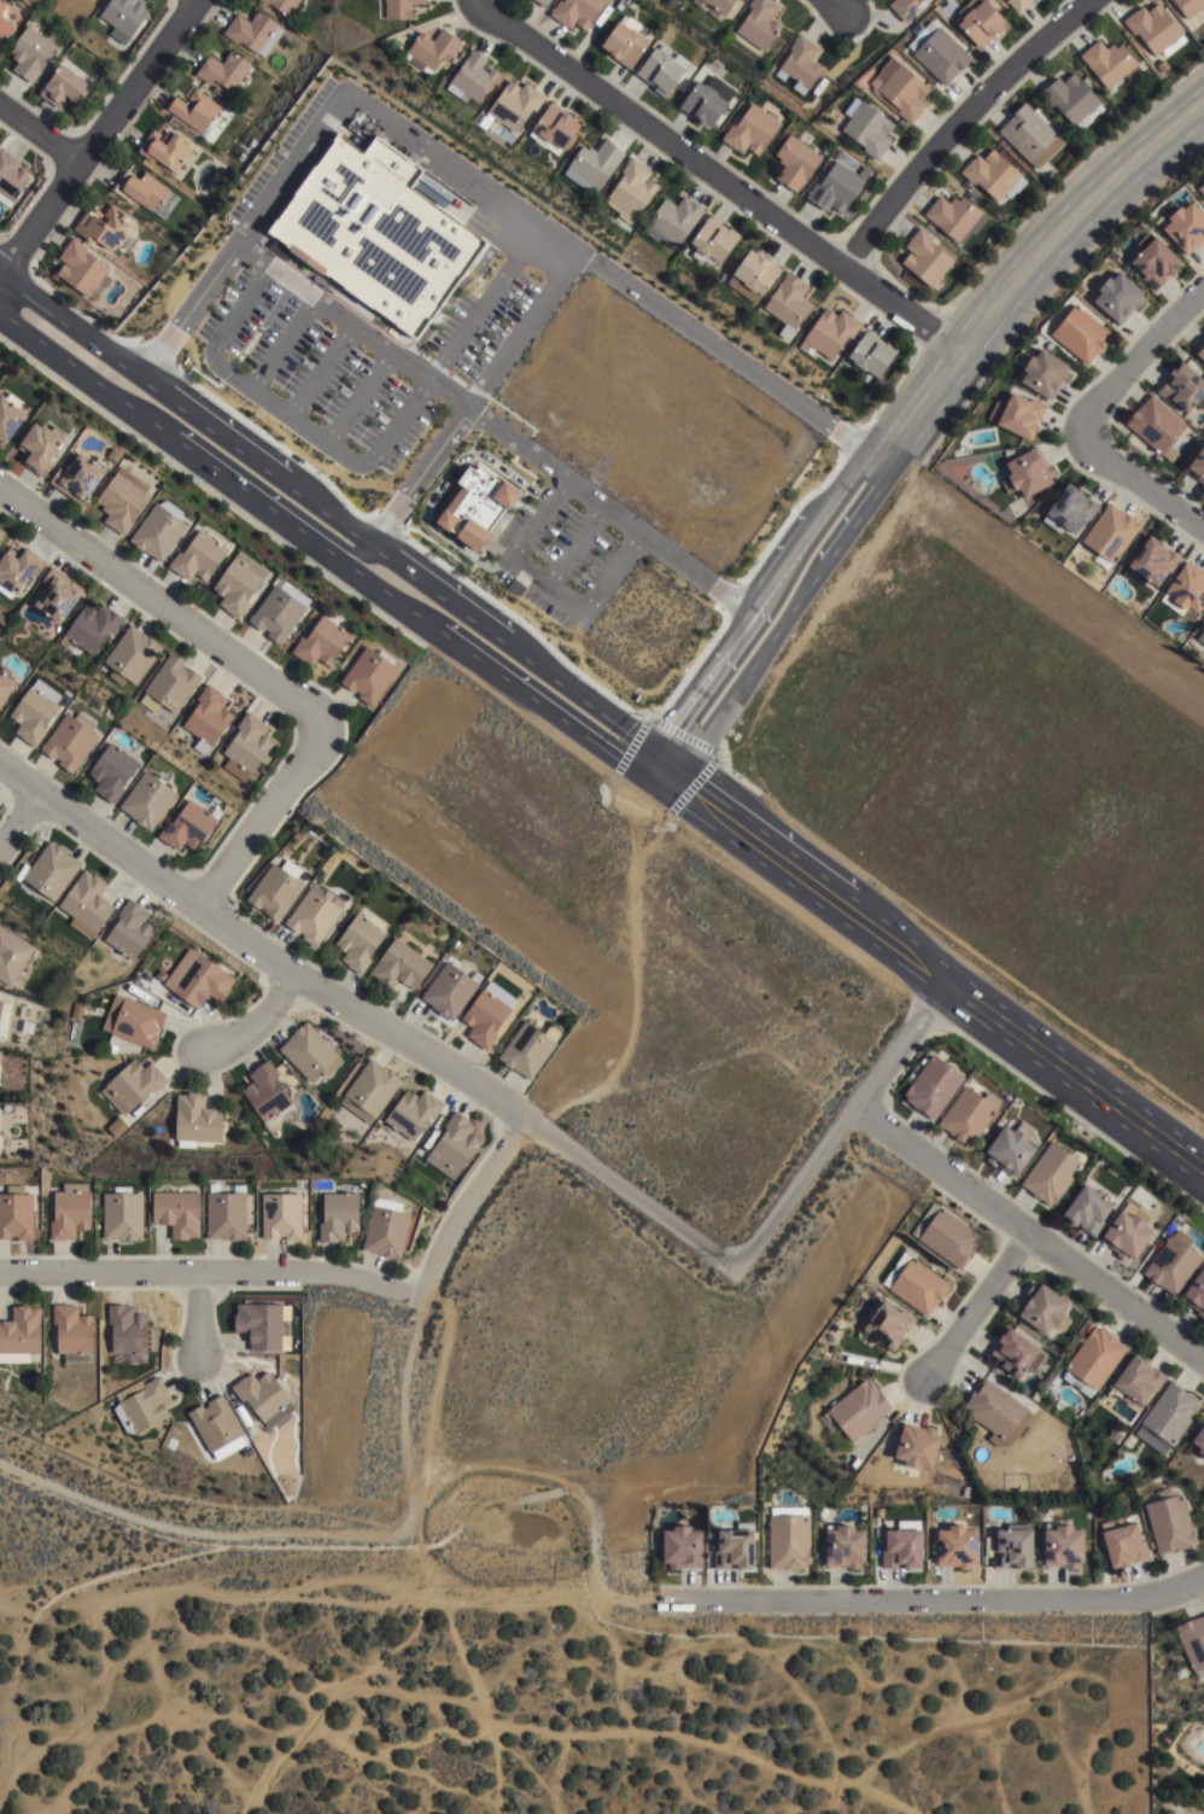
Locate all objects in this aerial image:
building: (540, 2)
building: (281, 5)
building: (1019, 5)
building: (714, 6)
road: (835, 6)
building: (1188, 6)
building: (401, 8)
building: (905, 8)
building: (1, 10)
building: (575, 12)
building: (123, 18)
building: (981, 25)
building: (756, 27)
building: (1152, 29)
building: (5, 31)
building: (252, 34)
building: (625, 42)
building: (431, 52)
building: (31, 54)
building: (939, 54)
building: (800, 65)
building: (1109, 65)
building: (222, 72)
building: (661, 72)
building: (471, 80)
building: (64, 91)
building: (899, 92)
building: (218, 93)
building: (1071, 103)
building: (702, 106)
building: (514, 109)
building: (193, 110)
road: (955, 122)
building: (866, 129)
building: (554, 130)
building: (750, 132)
road: (41, 134)
road: (101, 136)
building: (1029, 136)
building: (164, 152)
parking lot: (294, 157)
building: (596, 164)
building: (794, 164)
road: (292, 168)
road: (719, 177)
building: (993, 177)
building: (11, 179)
building: (1202, 186)
building: (835, 189)
building: (632, 191)
building: (146, 196)
building: (952, 218)
building: (671, 220)
building: (1183, 222)
building: (101, 229)
building: (374, 233)
building: (712, 238)
building: (685, 251)
building: (1155, 257)
building: (925, 261)
building: (755, 268)
building: (80, 272)
road: (608, 274)
road: (458, 285)
building: (1117, 294)
building: (788, 299)
road: (187, 315)
parking lot: (491, 326)
road: (521, 329)
building: (829, 332)
building: (1080, 332)
road: (284, 344)
building: (1199, 349)
building: (871, 352)
road: (1136, 361)
road: (320, 371)
building: (1044, 371)
parking lot: (310, 378)
building: (876, 385)
building: (1182, 385)
road: (358, 397)
building: (866, 397)
road: (910, 409)
building: (1017, 412)
building: (8, 415)
building: (1156, 425)
road: (498, 430)
building: (39, 445)
road: (361, 462)
building: (1197, 465)
building: (1024, 472)
building: (77, 477)
road: (417, 479)
road: (1141, 479)
road: (439, 488)
building: (123, 498)
building: (475, 506)
building: (1068, 508)
road: (538, 517)
road: (332, 526)
building: (158, 531)
building: (1110, 531)
building: (1, 532)
road: (575, 543)
building: (197, 556)
building: (1153, 559)
parking lot: (560, 561)
building: (18, 566)
road: (614, 571)
road: (549, 582)
building: (238, 583)
building: (1185, 589)
building: (58, 594)
road: (162, 606)
building: (279, 611)
building: (90, 628)
building: (1202, 635)
building: (321, 641)
building: (131, 655)
building: (369, 673)
building: (5, 686)
building: (170, 686)
building: (35, 711)
building: (208, 718)
building: (69, 742)
building: (249, 742)
traffic signals: (664, 763)
building: (112, 771)
building: (147, 800)
road: (18, 819)
road: (256, 819)
building: (189, 826)
building: (51, 870)
building: (274, 892)
building: (87, 902)
building: (315, 914)
building: (129, 931)
building: (358, 943)
building: (12, 956)
building: (399, 966)
road: (930, 969)
building: (198, 979)
building: (449, 991)
building: (4, 1017)
building: (485, 1017)
road: (367, 1019)
building: (133, 1021)
road: (256, 1026)
building: (111, 1049)
building: (526, 1050)
building: (309, 1052)
building: (133, 1086)
building: (931, 1087)
building: (370, 1091)
building: (265, 1092)
building: (413, 1114)
building: (968, 1115)
building: (195, 1121)
road: (841, 1125)
building: (117, 1127)
building: (0, 1145)
building: (454, 1147)
building: (1007, 1150)
building: (1050, 1174)
road: (467, 1206)
building: (1087, 1212)
building: (70, 1213)
building: (177, 1213)
building: (122, 1215)
building: (227, 1215)
building: (16, 1217)
building: (280, 1217)
building: (338, 1217)
building: (385, 1230)
road: (1028, 1235)
building: (946, 1237)
building: (1126, 1237)
building: (1171, 1264)
road: (212, 1273)
building: (916, 1285)
building: (1197, 1294)
road: (975, 1308)
building: (1042, 1313)
road: (201, 1317)
building: (259, 1326)
building: (888, 1328)
building: (127, 1331)
building: (72, 1335)
building: (19, 1336)
building: (1012, 1357)
building: (1093, 1363)
building: (1135, 1383)
building: (262, 1399)
building: (146, 1406)
building: (858, 1411)
building: (995, 1413)
building: (1168, 1418)
building: (215, 1424)
building: (1199, 1443)
building: (226, 1447)
building: (917, 1448)
building: (1169, 1527)
building: (788, 1544)
building: (1121, 1546)
building: (680, 1550)
building: (844, 1550)
building: (957, 1550)
building: (1064, 1550)
building: (1013, 1552)
building: (733, 1553)
building: (902, 1553)
road: (940, 1600)
building: (1192, 1638)

